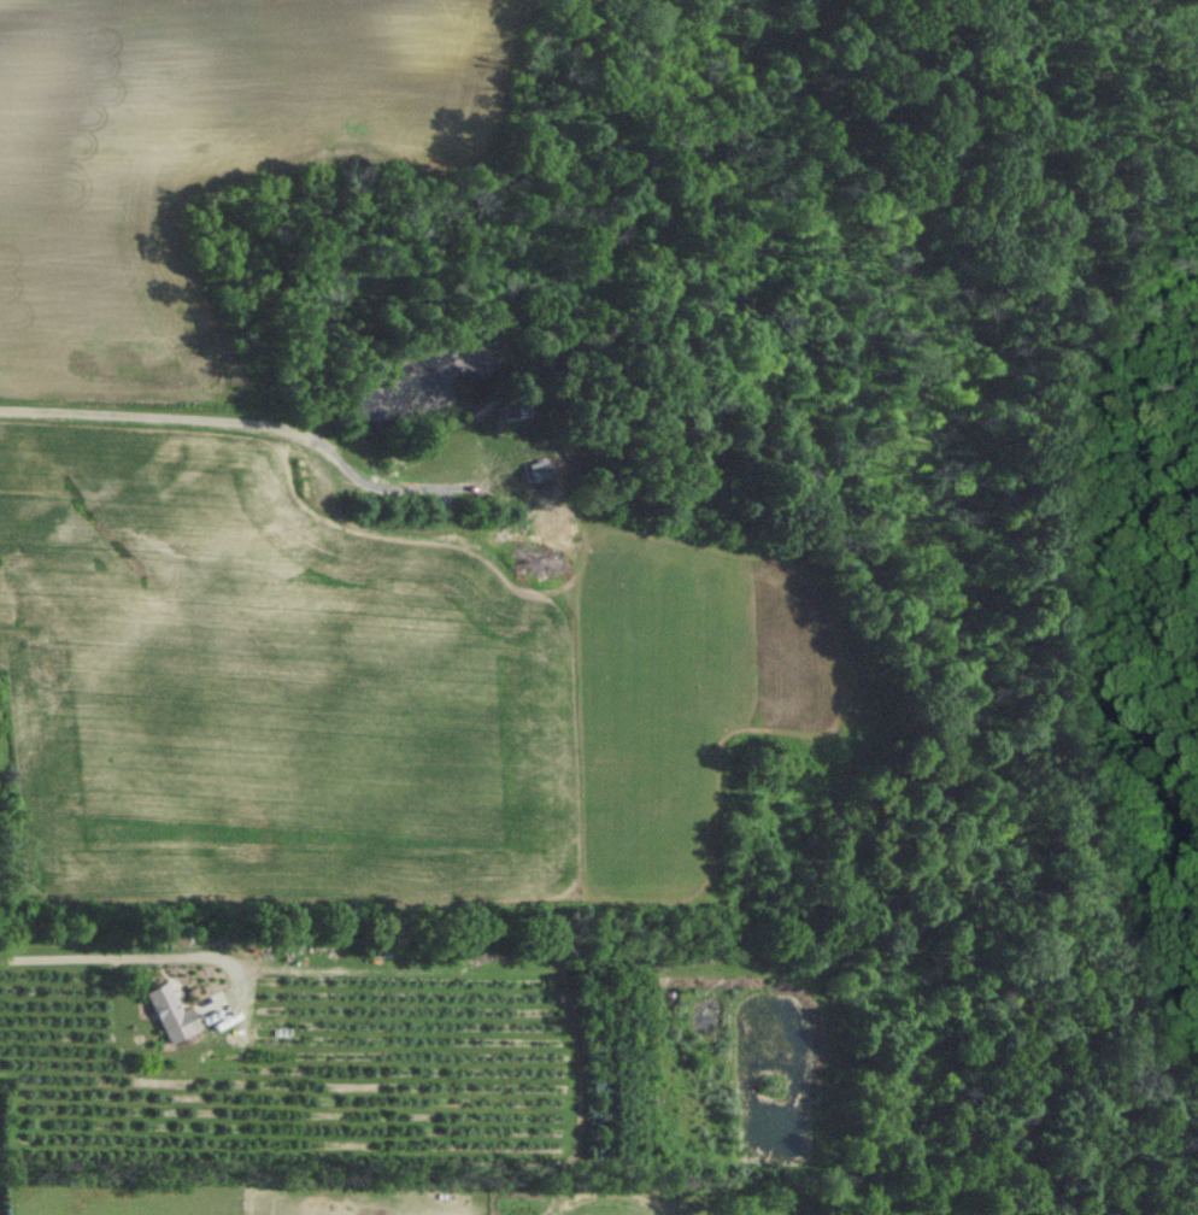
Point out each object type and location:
road: (104, 961)
building: (148, 1011)

